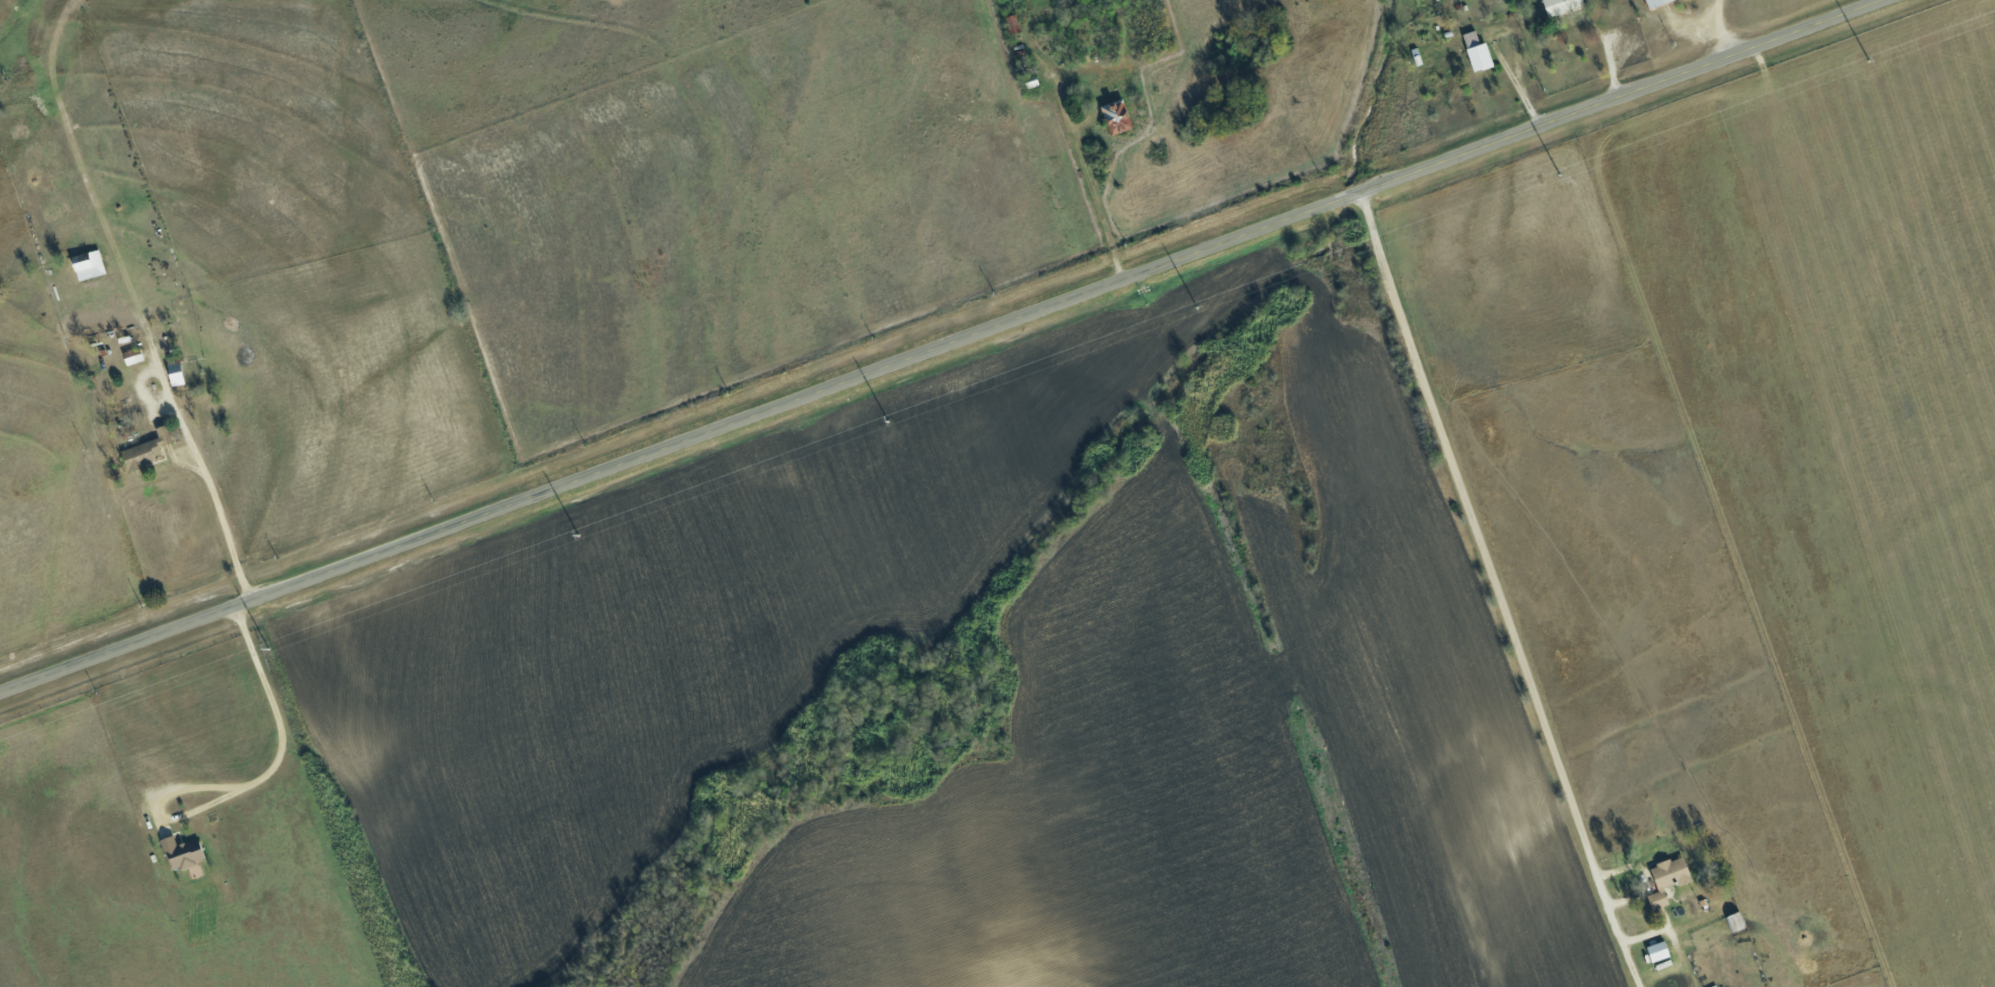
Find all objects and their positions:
building: (1655, 2)
building: (1559, 5)
road: (1719, 29)
road: (1495, 51)
building: (1478, 56)
power tower: (1868, 61)
building: (1116, 116)
power tower: (1558, 175)
building: (89, 266)
power tower: (1196, 308)
road: (941, 346)
building: (174, 373)
power tower: (886, 421)
building: (146, 449)
road: (220, 520)
power tower: (577, 536)
road: (1495, 591)
power tower: (267, 648)
road: (244, 784)
building: (181, 853)
building: (1667, 879)
building: (1657, 951)

